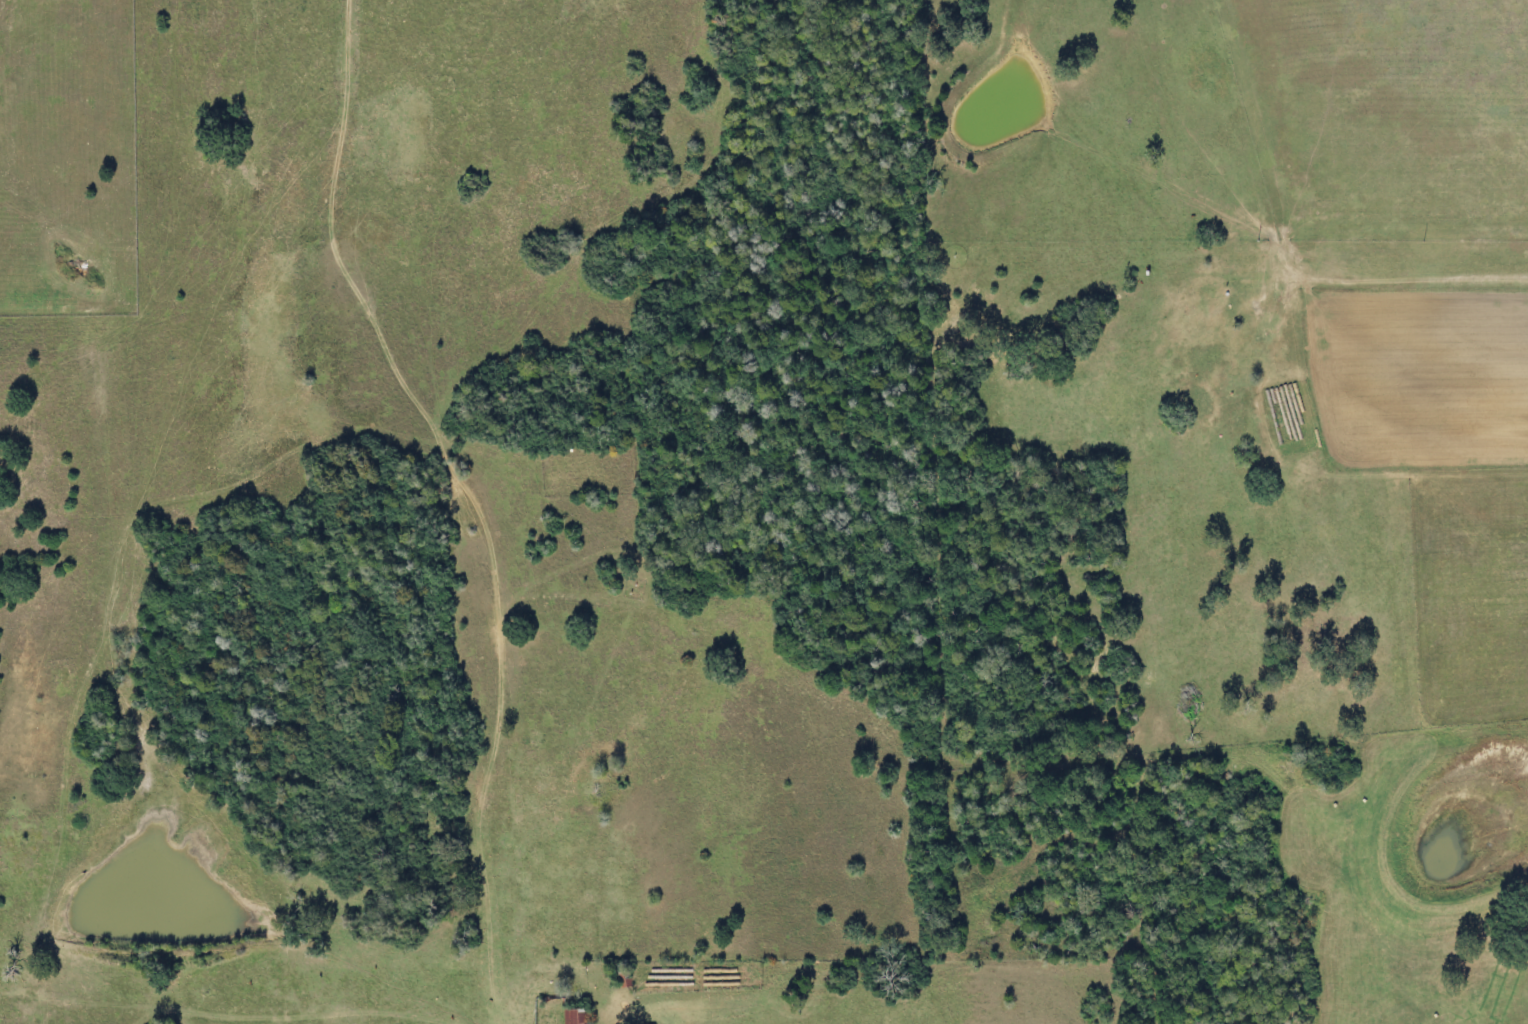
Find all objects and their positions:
road: (475, 501)
building: (578, 1016)

